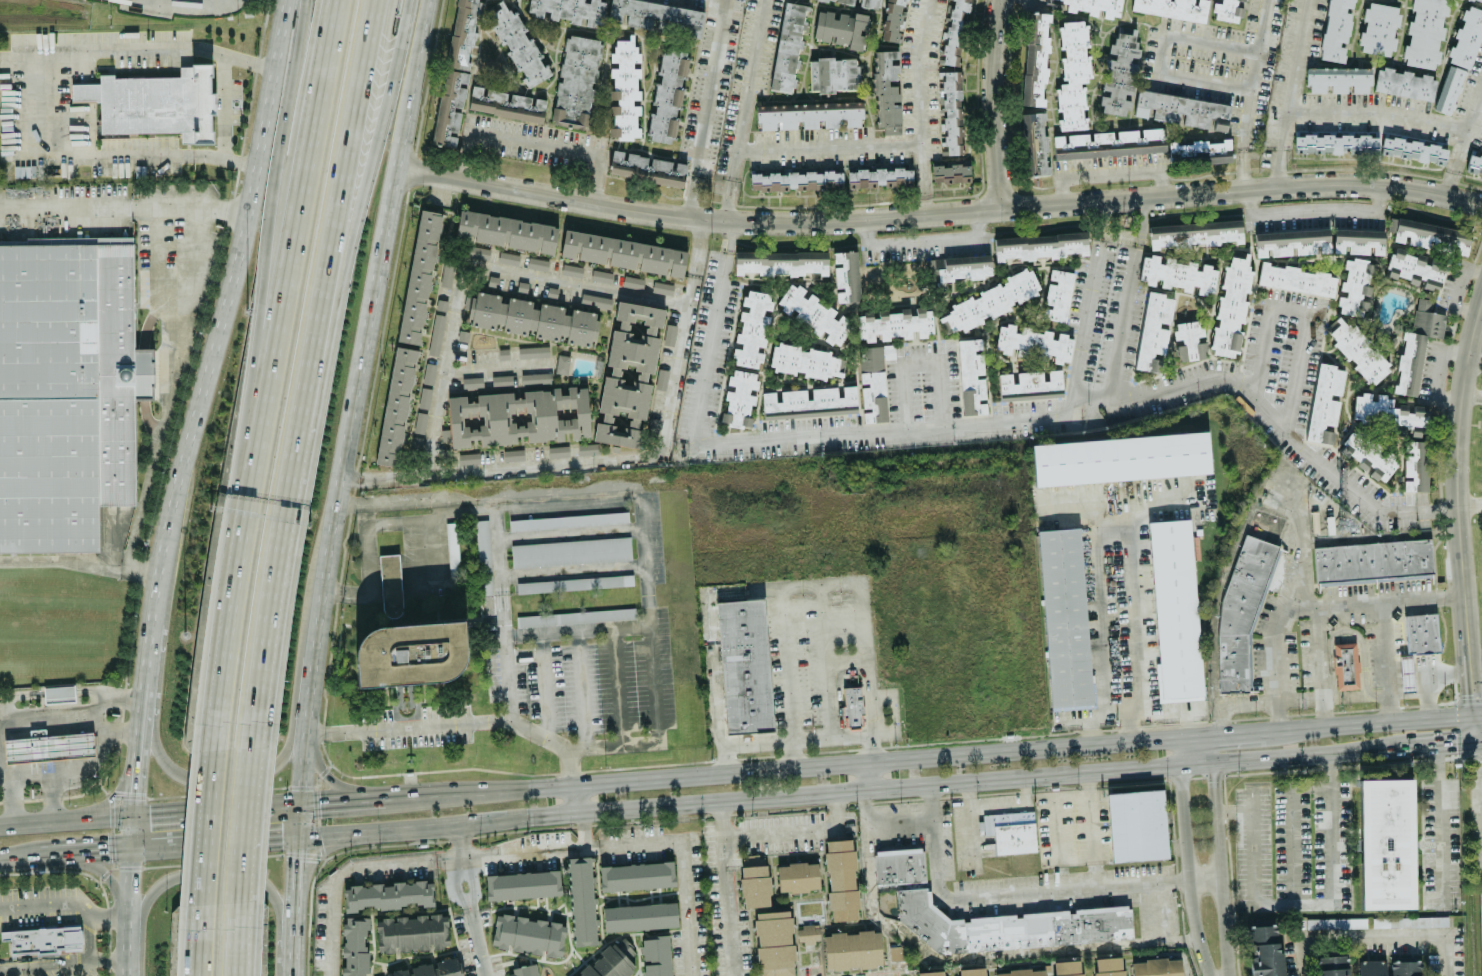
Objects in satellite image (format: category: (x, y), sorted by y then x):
building: (1479, 0)
road: (190, 1)
building: (863, 1)
building: (1089, 6)
building: (1172, 8)
building: (569, 10)
building: (1226, 10)
building: (656, 16)
building: (892, 20)
building: (841, 28)
building: (1378, 28)
building: (1336, 29)
building: (954, 32)
building: (1425, 33)
building: (1467, 37)
building: (519, 47)
building: (788, 47)
road: (1161, 53)
road: (1296, 56)
building: (1035, 58)
building: (1120, 71)
building: (833, 74)
building: (1338, 79)
building: (453, 81)
building: (576, 81)
building: (1404, 83)
building: (624, 87)
building: (887, 89)
building: (1448, 89)
road: (1249, 93)
building: (668, 95)
road: (21, 96)
building: (155, 103)
road: (995, 103)
building: (507, 104)
road: (923, 106)
road: (705, 107)
road: (56, 109)
road: (744, 109)
building: (1182, 109)
road: (1474, 113)
road: (1377, 114)
building: (809, 118)
road: (1283, 131)
road: (534, 141)
building: (1034, 143)
building: (1108, 143)
building: (1335, 143)
road: (1462, 146)
road: (829, 149)
building: (1413, 149)
road: (289, 150)
building: (1199, 150)
road: (307, 151)
building: (1474, 164)
building: (647, 168)
road: (1277, 168)
building: (950, 171)
road: (1110, 172)
building: (879, 177)
road: (1451, 177)
road: (344, 180)
road: (358, 180)
building: (796, 180)
road: (552, 193)
road: (1094, 201)
road: (1313, 206)
road: (125, 208)
road: (1098, 220)
road: (1139, 220)
building: (506, 231)
building: (1195, 233)
road: (1117, 234)
road: (731, 235)
building: (1430, 235)
building: (1358, 241)
road: (922, 242)
building: (1291, 242)
building: (1040, 245)
building: (623, 253)
road: (468, 261)
building: (781, 262)
building: (537, 263)
building: (964, 267)
building: (1415, 269)
building: (572, 270)
building: (1177, 274)
building: (601, 275)
building: (846, 276)
building: (419, 278)
building: (1296, 279)
building: (1355, 286)
building: (521, 287)
road: (1458, 289)
building: (1057, 295)
building: (442, 305)
building: (1230, 307)
road: (226, 310)
building: (814, 313)
building: (531, 316)
building: (1428, 319)
building: (896, 322)
road: (1128, 323)
road: (1083, 328)
building: (1154, 330)
building: (437, 332)
building: (1190, 338)
building: (1033, 342)
building: (1357, 349)
building: (533, 351)
road: (1476, 358)
building: (801, 360)
building: (562, 363)
building: (1409, 363)
road: (920, 364)
road: (495, 365)
road: (1436, 370)
building: (429, 372)
building: (629, 374)
road: (1257, 375)
building: (971, 376)
building: (536, 377)
building: (501, 380)
building: (473, 382)
building: (1030, 384)
road: (168, 390)
building: (66, 391)
building: (837, 393)
road: (1473, 393)
building: (424, 397)
building: (1325, 402)
building: (396, 406)
building: (1385, 410)
building: (520, 416)
building: (420, 422)
road: (883, 430)
building: (558, 450)
building: (513, 454)
building: (1370, 454)
building: (466, 458)
road: (621, 459)
building: (1121, 459)
building: (1415, 465)
road: (340, 485)
road: (564, 492)
road: (1470, 506)
road: (1438, 508)
road: (1459, 510)
building: (565, 519)
road: (240, 525)
road: (567, 533)
road: (1303, 546)
building: (452, 548)
building: (571, 551)
road: (278, 553)
building: (483, 556)
road: (59, 559)
building: (1373, 560)
road: (138, 567)
road: (570, 570)
building: (389, 578)
building: (574, 583)
road: (820, 583)
road: (1376, 599)
road: (499, 608)
building: (1174, 609)
road: (649, 611)
building: (1240, 612)
building: (575, 616)
building: (1065, 617)
road: (1099, 622)
road: (576, 632)
road: (1137, 632)
road: (1342, 632)
building: (1422, 633)
road: (146, 655)
building: (403, 656)
road: (1387, 660)
road: (1320, 665)
building: (744, 666)
road: (1277, 666)
building: (1346, 666)
building: (1406, 671)
road: (540, 686)
road: (616, 686)
road: (581, 689)
building: (58, 693)
road: (100, 693)
road: (1324, 698)
road: (1428, 705)
building: (852, 706)
road: (1478, 714)
traffic signals: (1474, 715)
road: (1451, 717)
road: (1, 720)
road: (1223, 720)
road: (1348, 725)
road: (405, 726)
road: (1475, 729)
road: (1239, 732)
road: (1129, 733)
road: (536, 734)
road: (800, 739)
road: (1479, 742)
road: (611, 743)
traffic signals: (1477, 743)
road: (1456, 744)
building: (48, 747)
road: (1422, 747)
road: (133, 753)
road: (791, 754)
road: (567, 766)
road: (80, 767)
road: (25, 772)
road: (727, 772)
road: (325, 776)
road: (868, 776)
road: (201, 779)
road: (1479, 782)
road: (1215, 789)
road: (1025, 790)
road: (766, 796)
road: (112, 797)
road: (1071, 797)
road: (576, 798)
traffic signals: (296, 803)
road: (998, 805)
road: (1235, 810)
road: (184, 811)
traffic signals: (126, 815)
road: (722, 817)
road: (970, 818)
road: (62, 819)
road: (898, 821)
road: (246, 824)
road: (1291, 826)
building: (1138, 827)
road: (1439, 827)
road: (204, 828)
road: (584, 829)
road: (1091, 829)
road: (799, 830)
road: (125, 832)
building: (1012, 832)
traffic signals: (295, 838)
road: (456, 840)
road: (633, 842)
building: (1385, 842)
road: (1057, 846)
traffic signals: (125, 849)
road: (522, 850)
road: (62, 852)
road: (1189, 857)
road: (312, 858)
building: (899, 865)
road: (347, 871)
road: (103, 873)
building: (636, 875)
road: (215, 876)
building: (797, 876)
road: (1207, 878)
building: (841, 879)
building: (754, 880)
building: (523, 884)
road: (124, 891)
road: (1011, 892)
building: (388, 894)
road: (69, 901)
building: (581, 901)
road: (728, 905)
road: (1308, 905)
road: (686, 907)
road: (1225, 909)
road: (1158, 911)
road: (473, 916)
building: (640, 916)
building: (1409, 921)
building: (1335, 922)
building: (1011, 924)
building: (412, 932)
building: (807, 933)
road: (91, 934)
building: (528, 934)
road: (1372, 934)
building: (42, 939)
road: (237, 939)
road: (196, 941)
building: (774, 943)
building: (354, 946)
building: (852, 949)
building: (1264, 950)
building: (896, 953)
road: (125, 954)
building: (656, 955)
road: (966, 956)
road: (108, 957)
building: (610, 960)
road: (46, 962)
building: (1332, 965)
building: (1108, 966)
building: (1156, 966)
building: (1066, 967)
building: (1370, 967)
building: (1407, 968)
building: (427, 969)
building: (524, 971)
building: (972, 971)
building: (1021, 972)
building: (931, 973)

